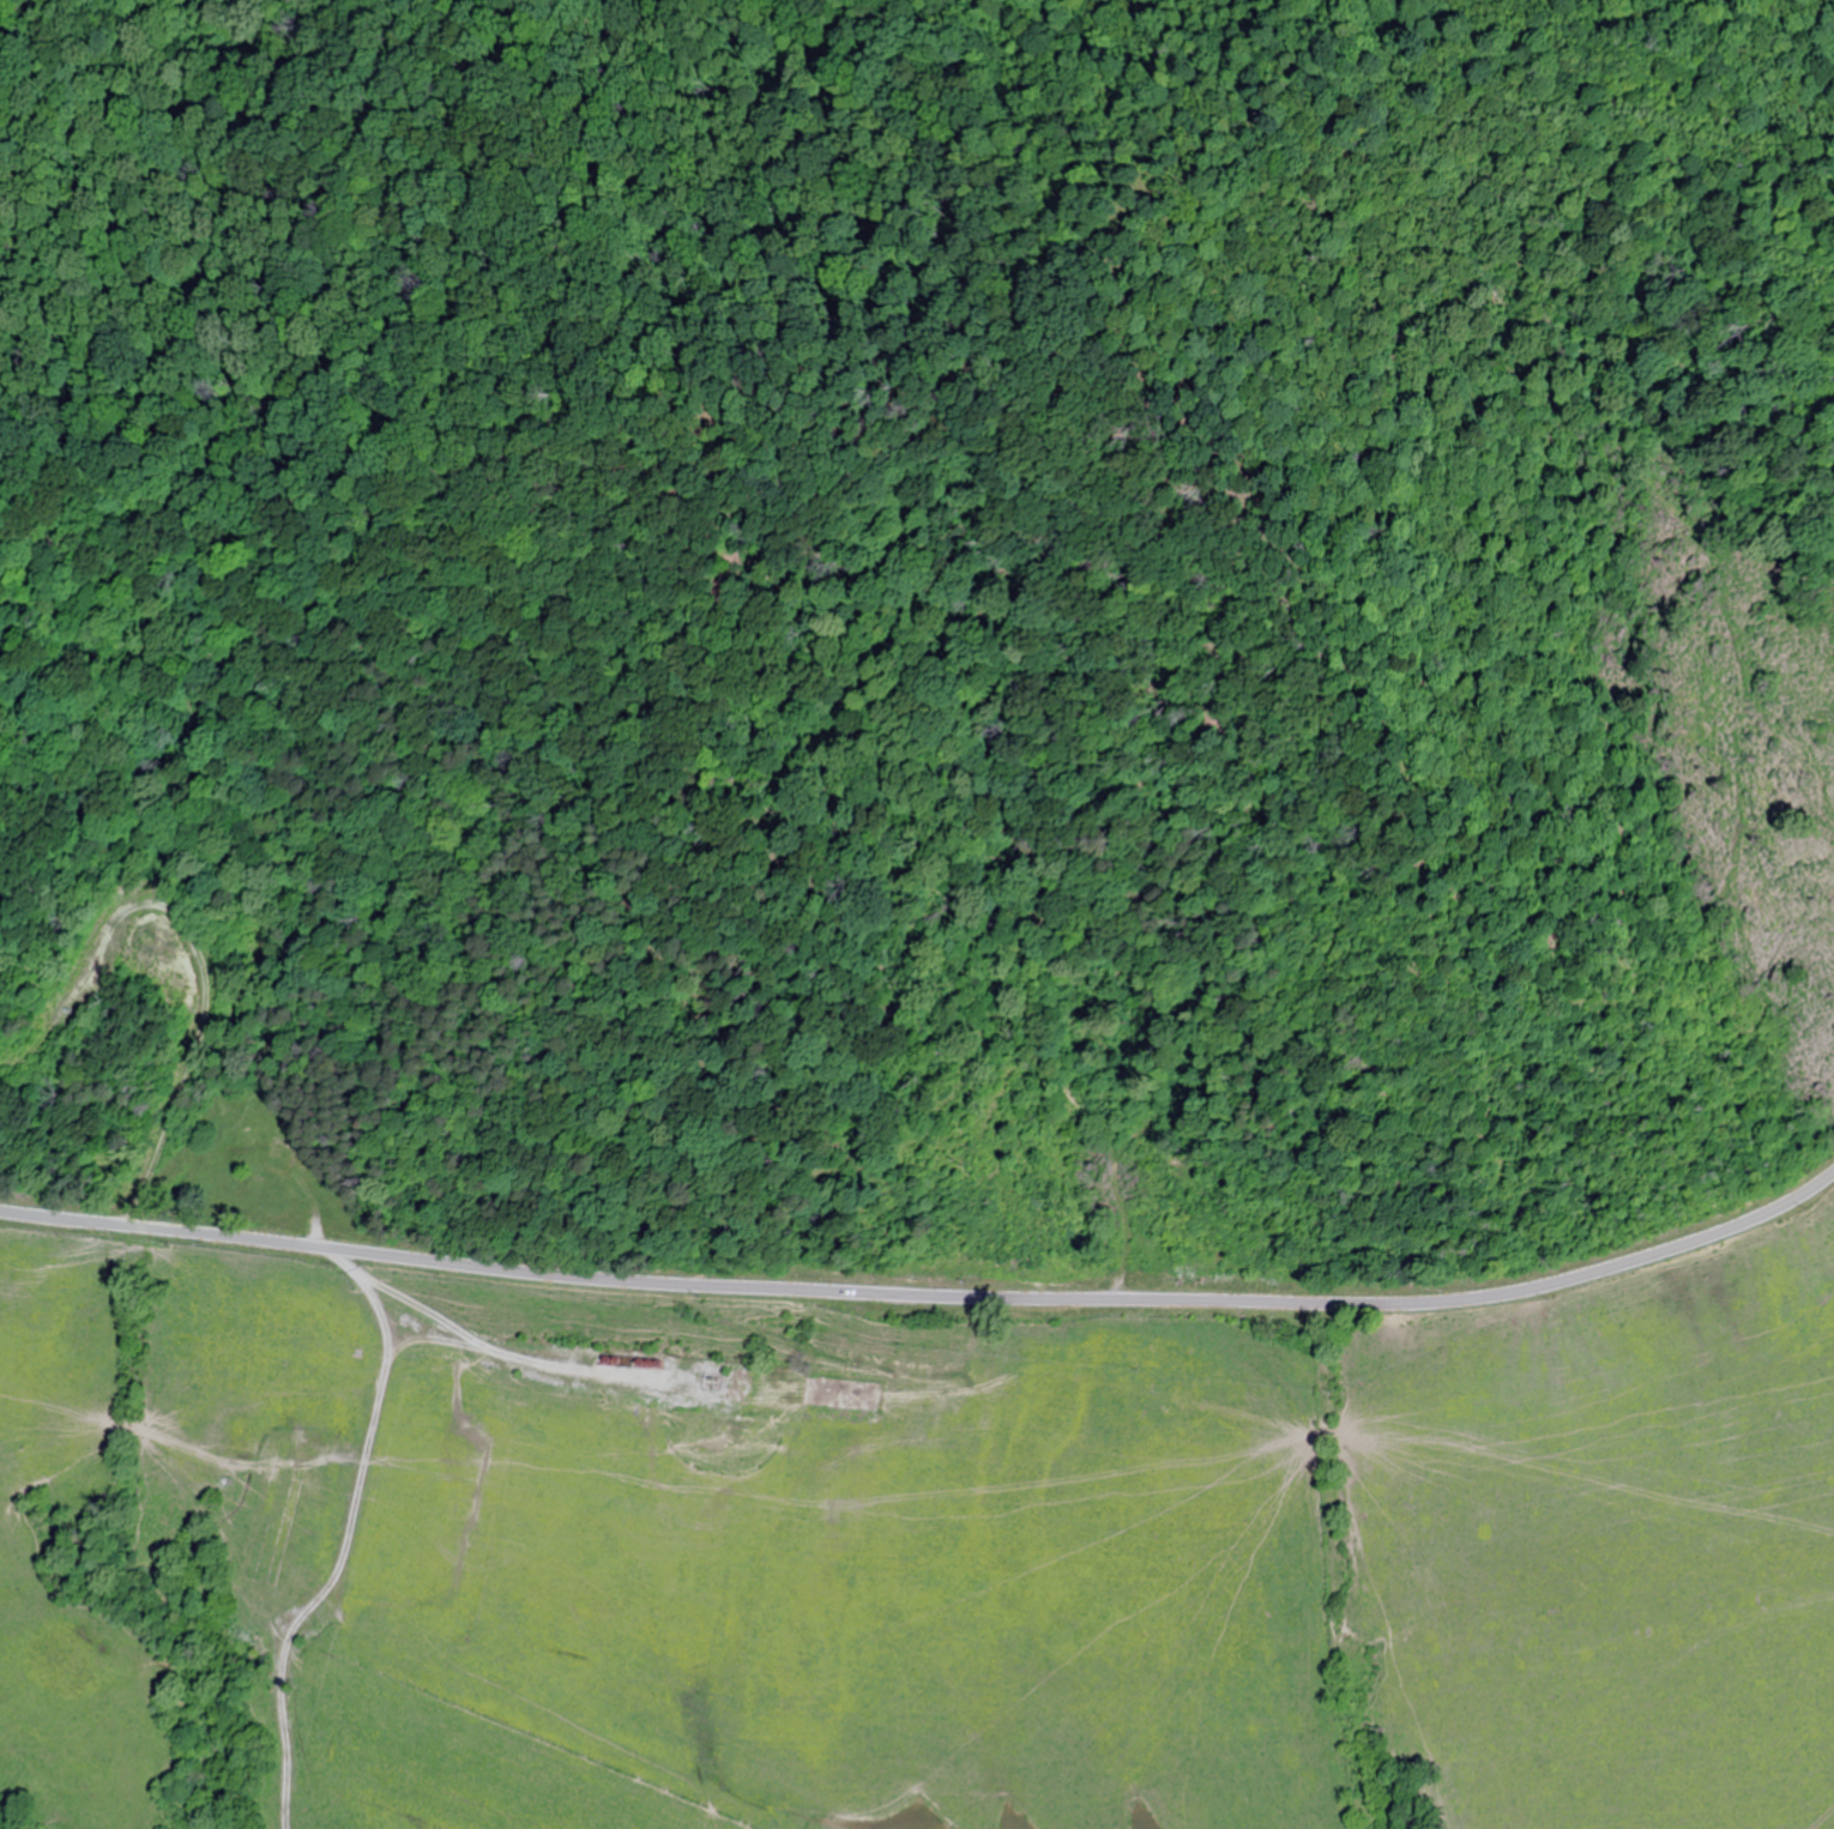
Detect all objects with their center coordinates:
building: (273, 1188)
building: (1163, 1251)
road: (927, 1297)
building: (693, 1380)
building: (272, 1514)

